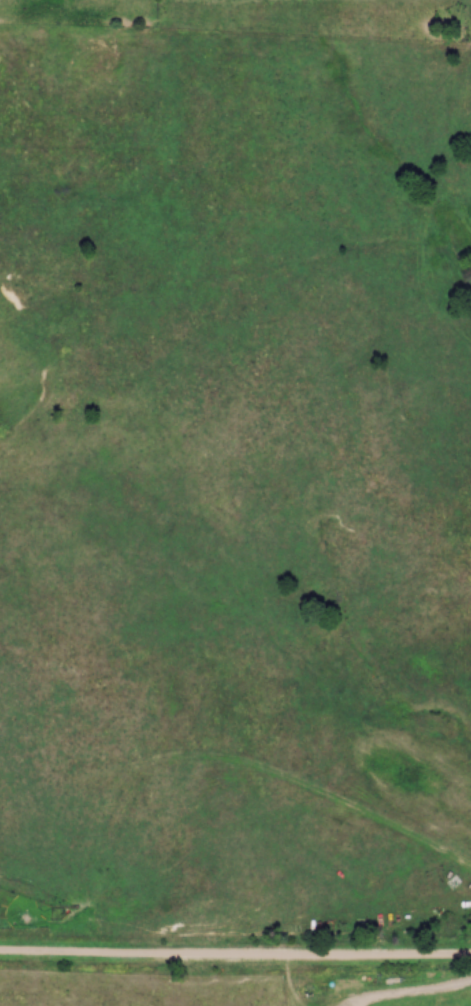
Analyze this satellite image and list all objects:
building: (453, 882)
road: (235, 960)

